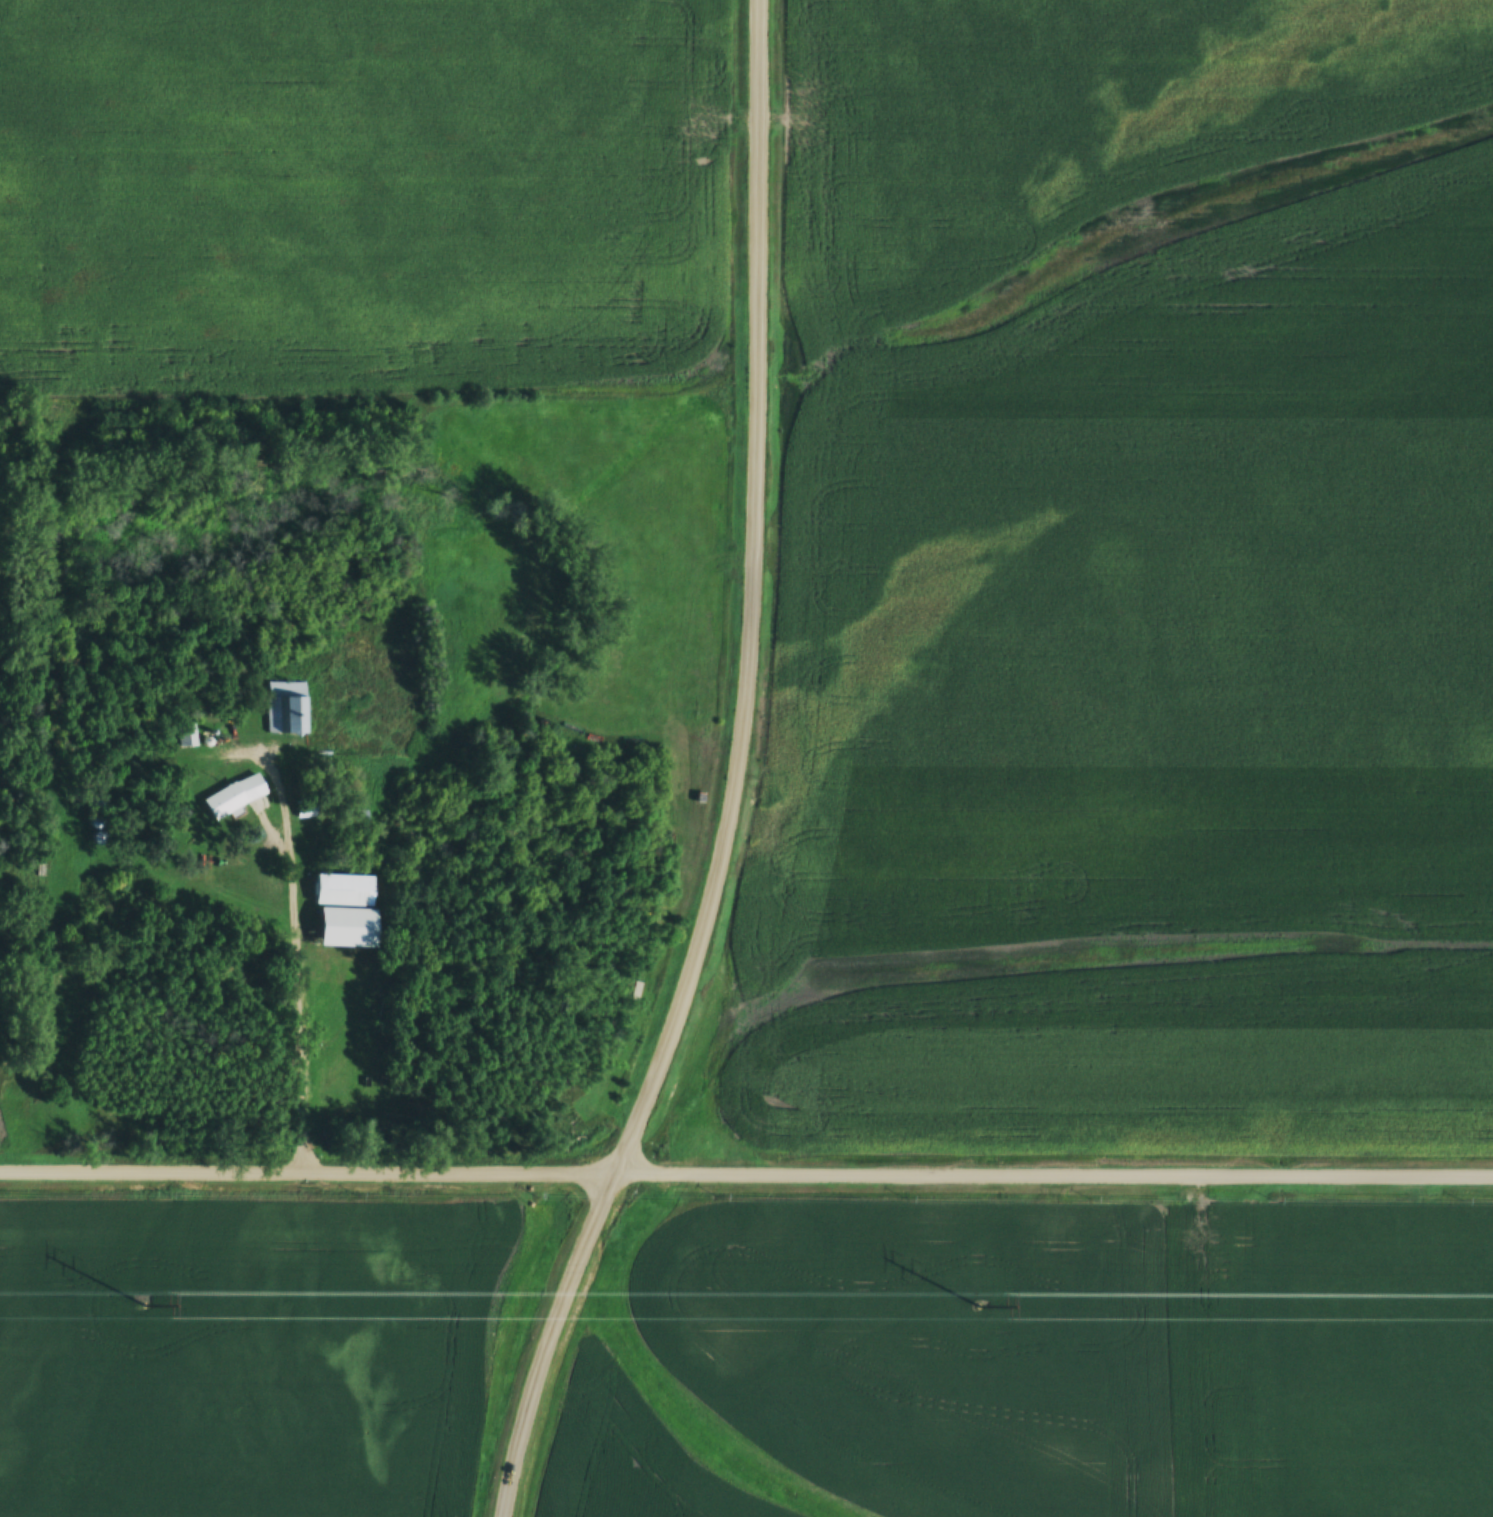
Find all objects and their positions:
road: (763, 178)
road: (762, 363)
building: (289, 708)
building: (191, 735)
building: (237, 796)
building: (309, 809)
building: (350, 890)
road: (701, 957)
road: (299, 969)
road: (746, 1171)
power tower: (141, 1303)
power tower: (979, 1305)

